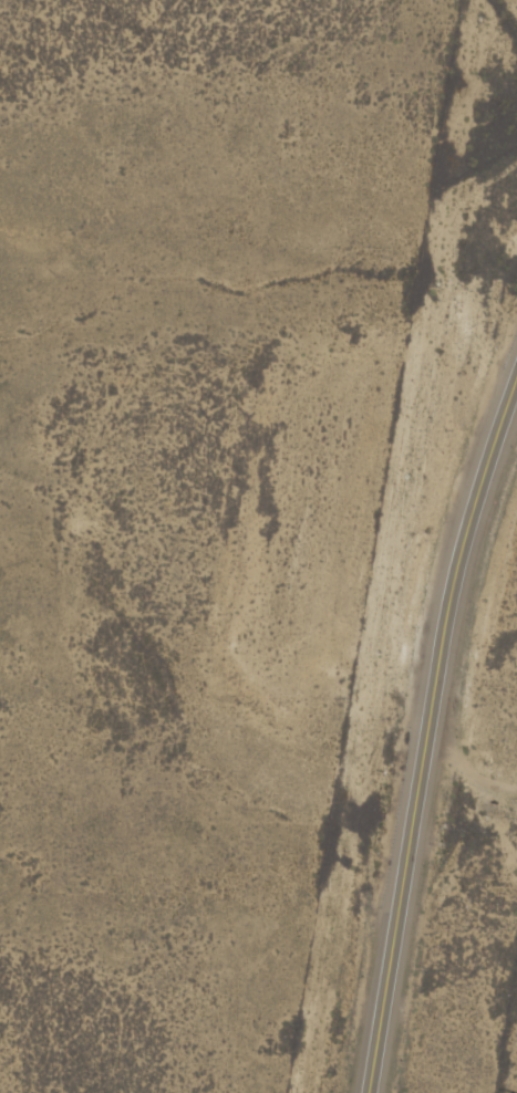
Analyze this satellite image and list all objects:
road: (428, 735)

